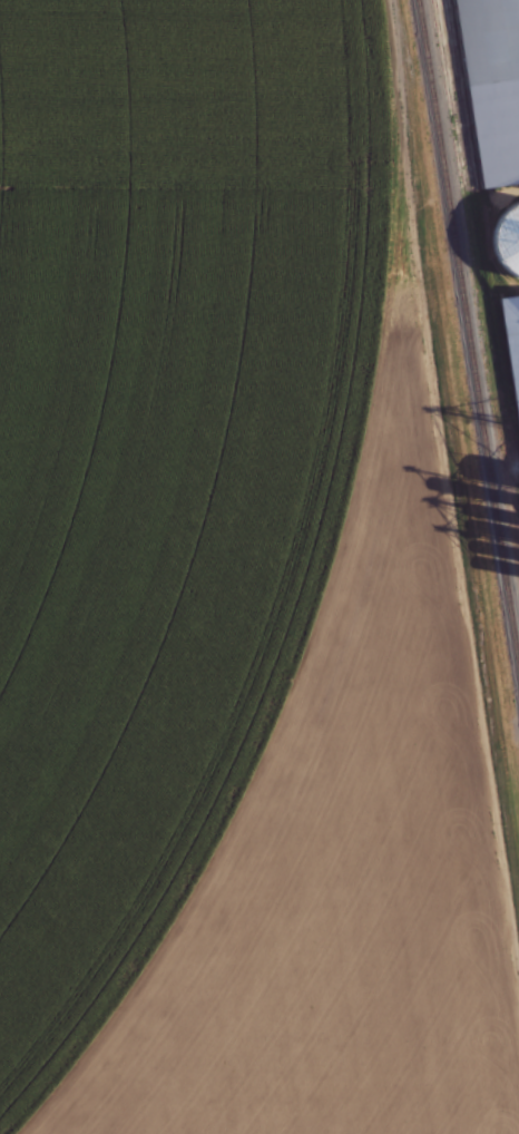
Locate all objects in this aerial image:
building: (491, 85)
building: (507, 238)
railway: (480, 243)
railway: (469, 252)
building: (510, 325)
railway: (468, 335)

